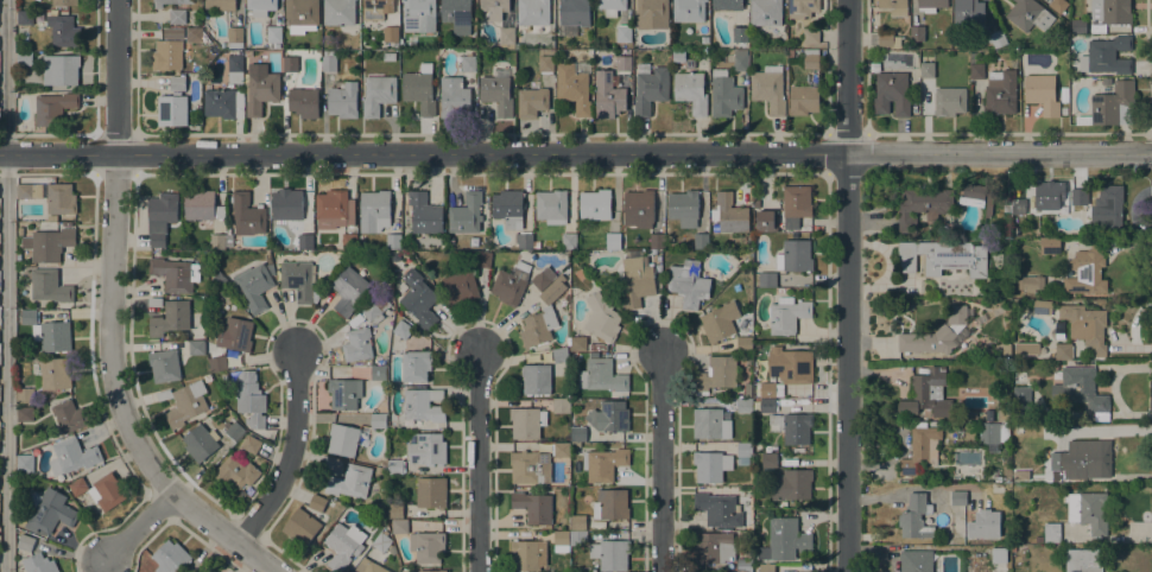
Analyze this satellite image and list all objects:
building: (64, 2)
building: (220, 5)
building: (727, 5)
building: (930, 5)
building: (1058, 5)
building: (610, 6)
building: (894, 6)
building: (260, 7)
building: (375, 8)
building: (494, 8)
building: (802, 8)
building: (173, 9)
building: (688, 9)
building: (338, 12)
building: (532, 12)
building: (574, 12)
building: (765, 12)
building: (968, 12)
building: (651, 13)
building: (1108, 13)
building: (302, 14)
building: (418, 14)
building: (456, 14)
building: (1028, 14)
building: (24, 18)
building: (1077, 26)
building: (62, 30)
building: (390, 33)
building: (622, 33)
building: (917, 33)
building: (194, 34)
building: (740, 34)
building: (273, 36)
building: (810, 36)
building: (506, 37)
building: (235, 38)
building: (998, 38)
building: (888, 40)
building: (169, 50)
building: (247, 52)
building: (388, 56)
building: (1106, 56)
building: (24, 58)
building: (683, 58)
building: (810, 59)
building: (328, 61)
building: (467, 63)
building: (545, 63)
building: (622, 63)
building: (739, 63)
building: (290, 64)
building: (234, 66)
building: (874, 66)
building: (59, 70)
building: (926, 70)
building: (976, 71)
building: (177, 83)
building: (572, 88)
building: (648, 88)
building: (419, 89)
building: (260, 90)
building: (767, 90)
building: (690, 91)
building: (1000, 93)
building: (496, 94)
building: (723, 94)
building: (891, 94)
building: (1042, 94)
building: (376, 95)
building: (607, 95)
building: (452, 97)
building: (803, 100)
building: (342, 101)
building: (532, 101)
building: (949, 101)
building: (303, 102)
building: (223, 103)
building: (1110, 106)
building: (51, 108)
building: (171, 109)
building: (1063, 110)
road: (575, 155)
building: (1050, 185)
building: (29, 191)
building: (971, 195)
building: (1078, 197)
building: (59, 198)
building: (796, 202)
building: (286, 204)
building: (595, 204)
building: (988, 204)
building: (202, 205)
building: (331, 206)
building: (551, 206)
building: (922, 206)
building: (1018, 206)
building: (639, 208)
building: (683, 208)
building: (508, 209)
building: (1108, 209)
building: (374, 210)
building: (424, 214)
building: (466, 214)
building: (729, 214)
building: (247, 215)
building: (52, 217)
building: (160, 217)
building: (766, 221)
building: (67, 223)
building: (216, 241)
building: (302, 241)
building: (349, 241)
building: (393, 241)
building: (524, 241)
building: (568, 241)
building: (613, 241)
building: (656, 241)
building: (701, 241)
building: (48, 243)
building: (536, 244)
building: (624, 244)
building: (1049, 246)
building: (793, 256)
building: (942, 258)
building: (482, 259)
building: (271, 268)
building: (1085, 272)
building: (175, 274)
building: (219, 278)
building: (543, 279)
building: (766, 279)
building: (298, 281)
building: (635, 281)
building: (1030, 282)
building: (511, 284)
building: (688, 284)
road: (7, 286)
building: (49, 286)
building: (254, 286)
road: (846, 286)
building: (460, 287)
building: (347, 290)
building: (418, 299)
building: (1042, 306)
building: (375, 309)
building: (786, 314)
building: (169, 316)
building: (29, 317)
building: (542, 317)
road: (110, 318)
building: (601, 318)
building: (721, 322)
building: (1085, 325)
building: (401, 329)
building: (1058, 330)
building: (935, 333)
building: (52, 336)
building: (743, 341)
building: (230, 342)
building: (357, 344)
building: (577, 344)
building: (1006, 347)
building: (196, 348)
building: (1026, 349)
building: (1063, 351)
building: (559, 355)
building: (164, 366)
building: (416, 366)
building: (789, 366)
building: (378, 373)
building: (55, 374)
building: (716, 375)
building: (601, 376)
building: (207, 377)
building: (536, 380)
building: (747, 389)
building: (771, 389)
building: (1081, 392)
building: (344, 393)
building: (24, 394)
building: (926, 394)
building: (248, 396)
building: (184, 402)
building: (1020, 402)
building: (423, 405)
building: (767, 405)
building: (561, 406)
building: (743, 406)
building: (24, 414)
building: (69, 415)
building: (970, 415)
building: (989, 415)
building: (612, 417)
building: (378, 420)
building: (526, 422)
building: (709, 424)
building: (793, 426)
building: (996, 428)
building: (234, 431)
building: (577, 436)
building: (346, 439)
building: (544, 439)
building: (200, 443)
building: (251, 444)
building: (426, 449)
building: (561, 450)
building: (920, 450)
building: (743, 452)
building: (72, 456)
road: (290, 456)
road: (660, 460)
building: (768, 460)
building: (1059, 460)
road: (476, 462)
building: (25, 463)
building: (1089, 463)
building: (603, 464)
building: (710, 465)
building: (394, 466)
building: (530, 466)
building: (235, 471)
building: (1064, 477)
building: (349, 481)
building: (791, 484)
road: (913, 488)
building: (100, 490)
building: (431, 492)
building: (958, 497)
building: (318, 502)
building: (610, 503)
building: (783, 504)
building: (533, 507)
building: (719, 509)
building: (49, 510)
building: (394, 510)
building: (1088, 510)
building: (914, 517)
building: (577, 522)
building: (399, 526)
building: (300, 527)
road: (139, 529)
building: (1051, 532)
building: (578, 538)
building: (1038, 539)
building: (784, 540)
building: (561, 541)
building: (25, 542)
building: (381, 542)
building: (343, 545)
building: (426, 546)
building: (713, 547)
building: (527, 554)
building: (610, 554)
building: (170, 557)
building: (996, 559)
building: (916, 560)
building: (1082, 560)
building: (39, 564)
building: (743, 565)
building: (368, 566)
building: (766, 568)
building: (207, 570)
building: (433, 571)

